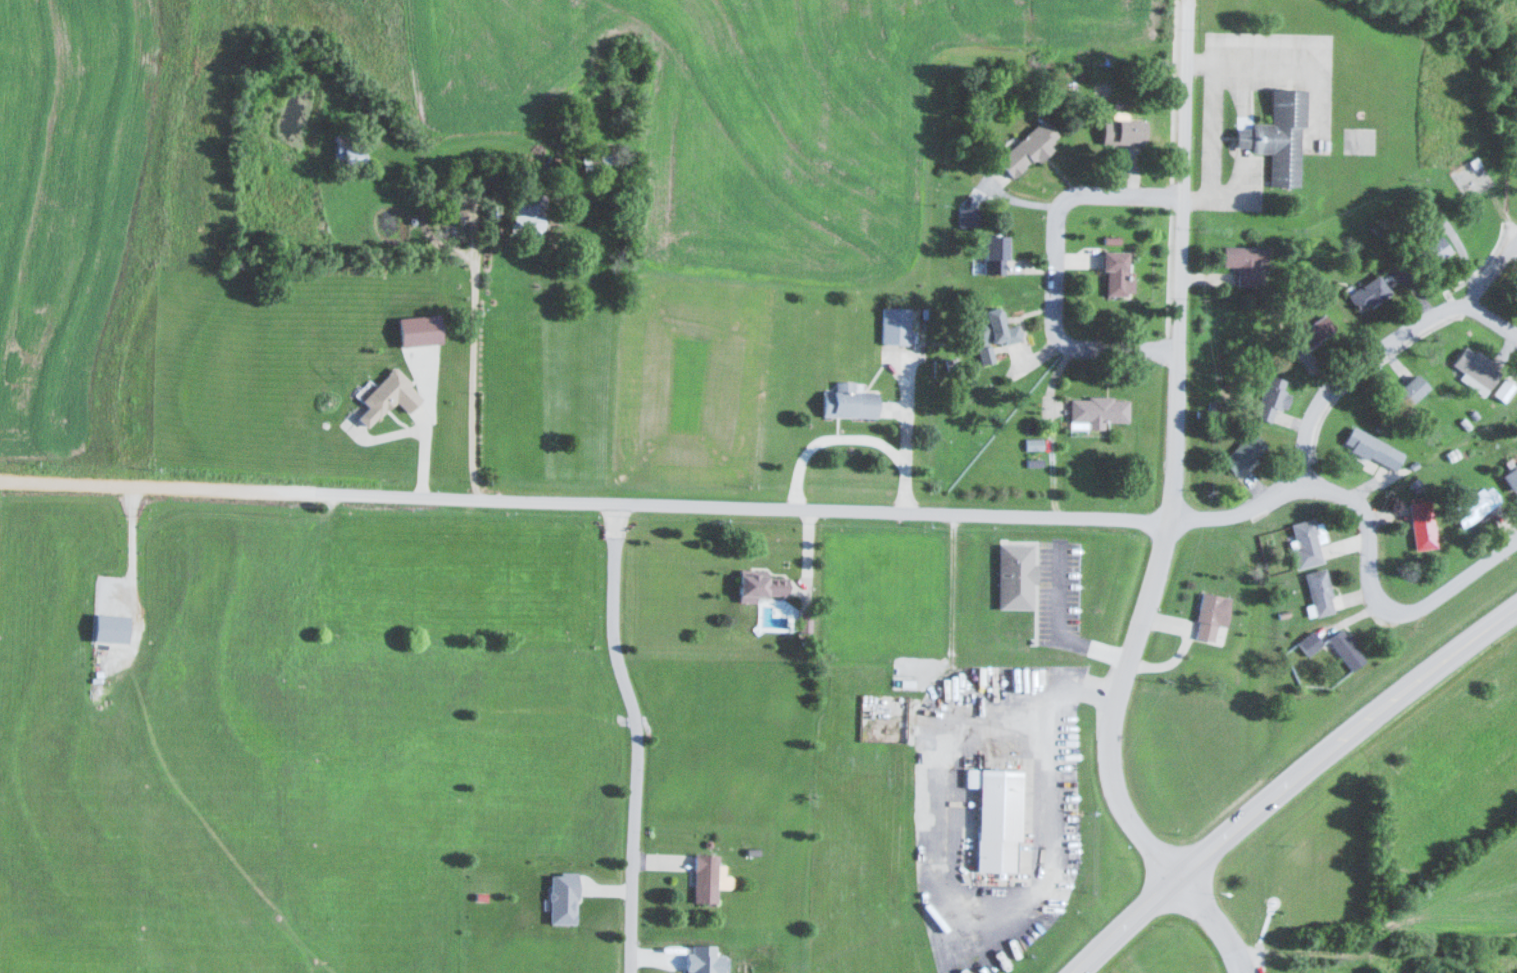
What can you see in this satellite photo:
road: (1188, 3)
building: (1122, 131)
building: (1278, 136)
building: (1028, 148)
building: (346, 154)
building: (524, 224)
building: (1432, 251)
building: (994, 254)
building: (1244, 262)
road: (1055, 268)
building: (1115, 273)
building: (1367, 293)
road: (1492, 317)
building: (895, 325)
building: (988, 333)
building: (1309, 333)
building: (1477, 370)
road: (1329, 386)
building: (1504, 387)
building: (1410, 391)
building: (387, 397)
building: (1271, 398)
building: (849, 402)
building: (1098, 409)
building: (1373, 448)
building: (1243, 453)
building: (1511, 477)
road: (585, 501)
building: (1473, 505)
road: (1171, 514)
building: (1421, 525)
building: (1304, 544)
building: (1015, 576)
building: (759, 584)
building: (1318, 592)
road: (1379, 601)
building: (1210, 616)
building: (1308, 643)
building: (1346, 649)
road: (637, 735)
road: (1290, 782)
building: (996, 817)
building: (705, 877)

